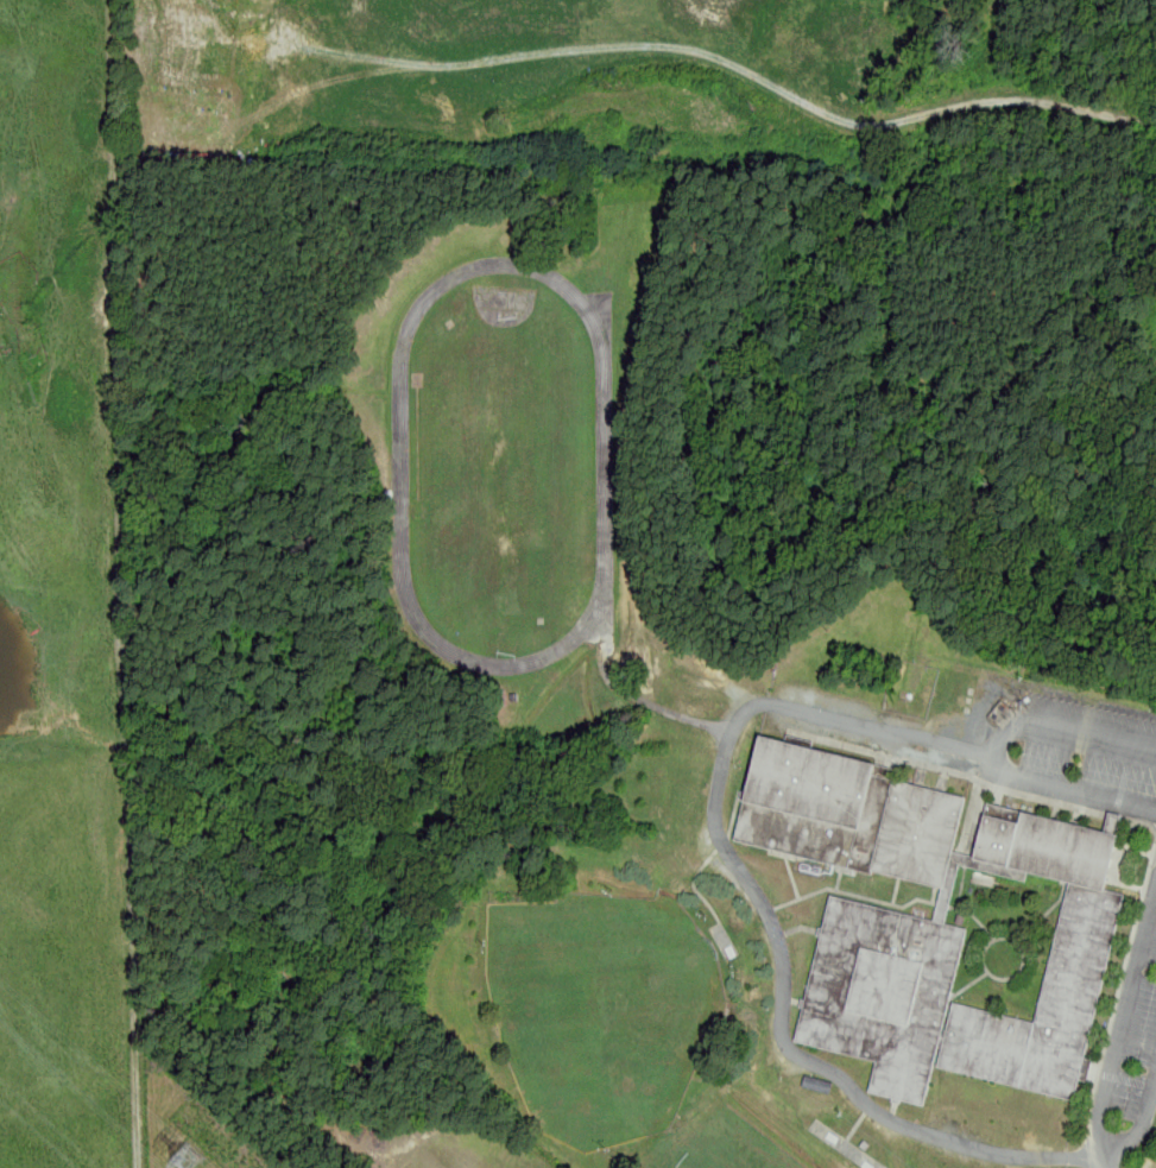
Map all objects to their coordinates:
building: (272, 132)
track: (504, 467)
park: (506, 474)
track: (607, 624)
road: (1059, 726)
road: (722, 839)
building: (930, 923)
park: (602, 1010)
road: (1123, 1033)
road: (1137, 1124)
park: (739, 1147)
power tower: (189, 1161)

